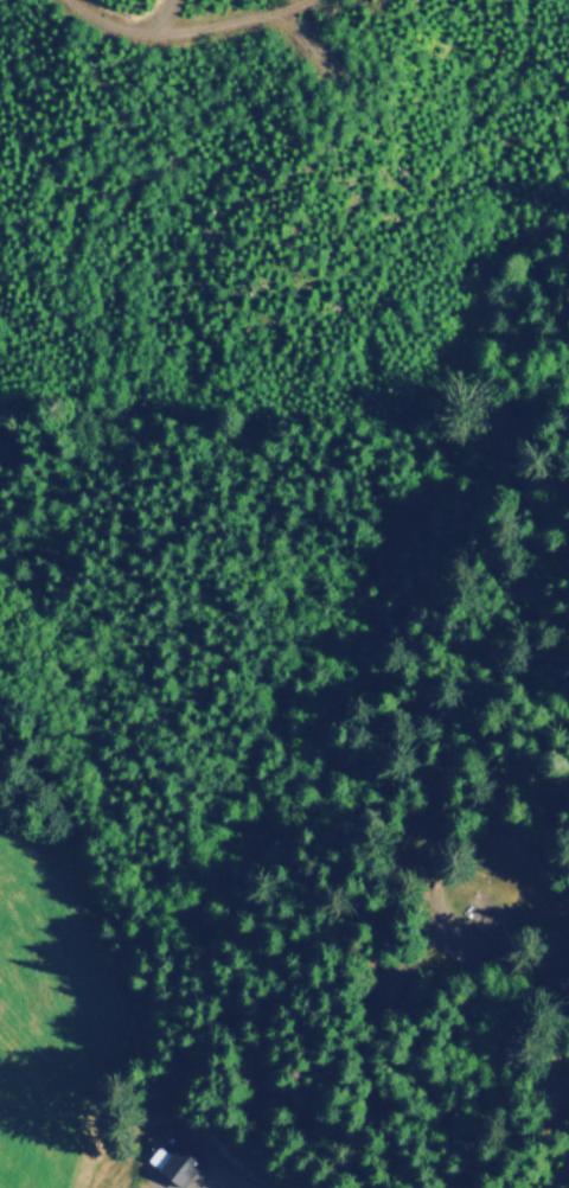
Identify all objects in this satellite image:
road: (127, 25)

